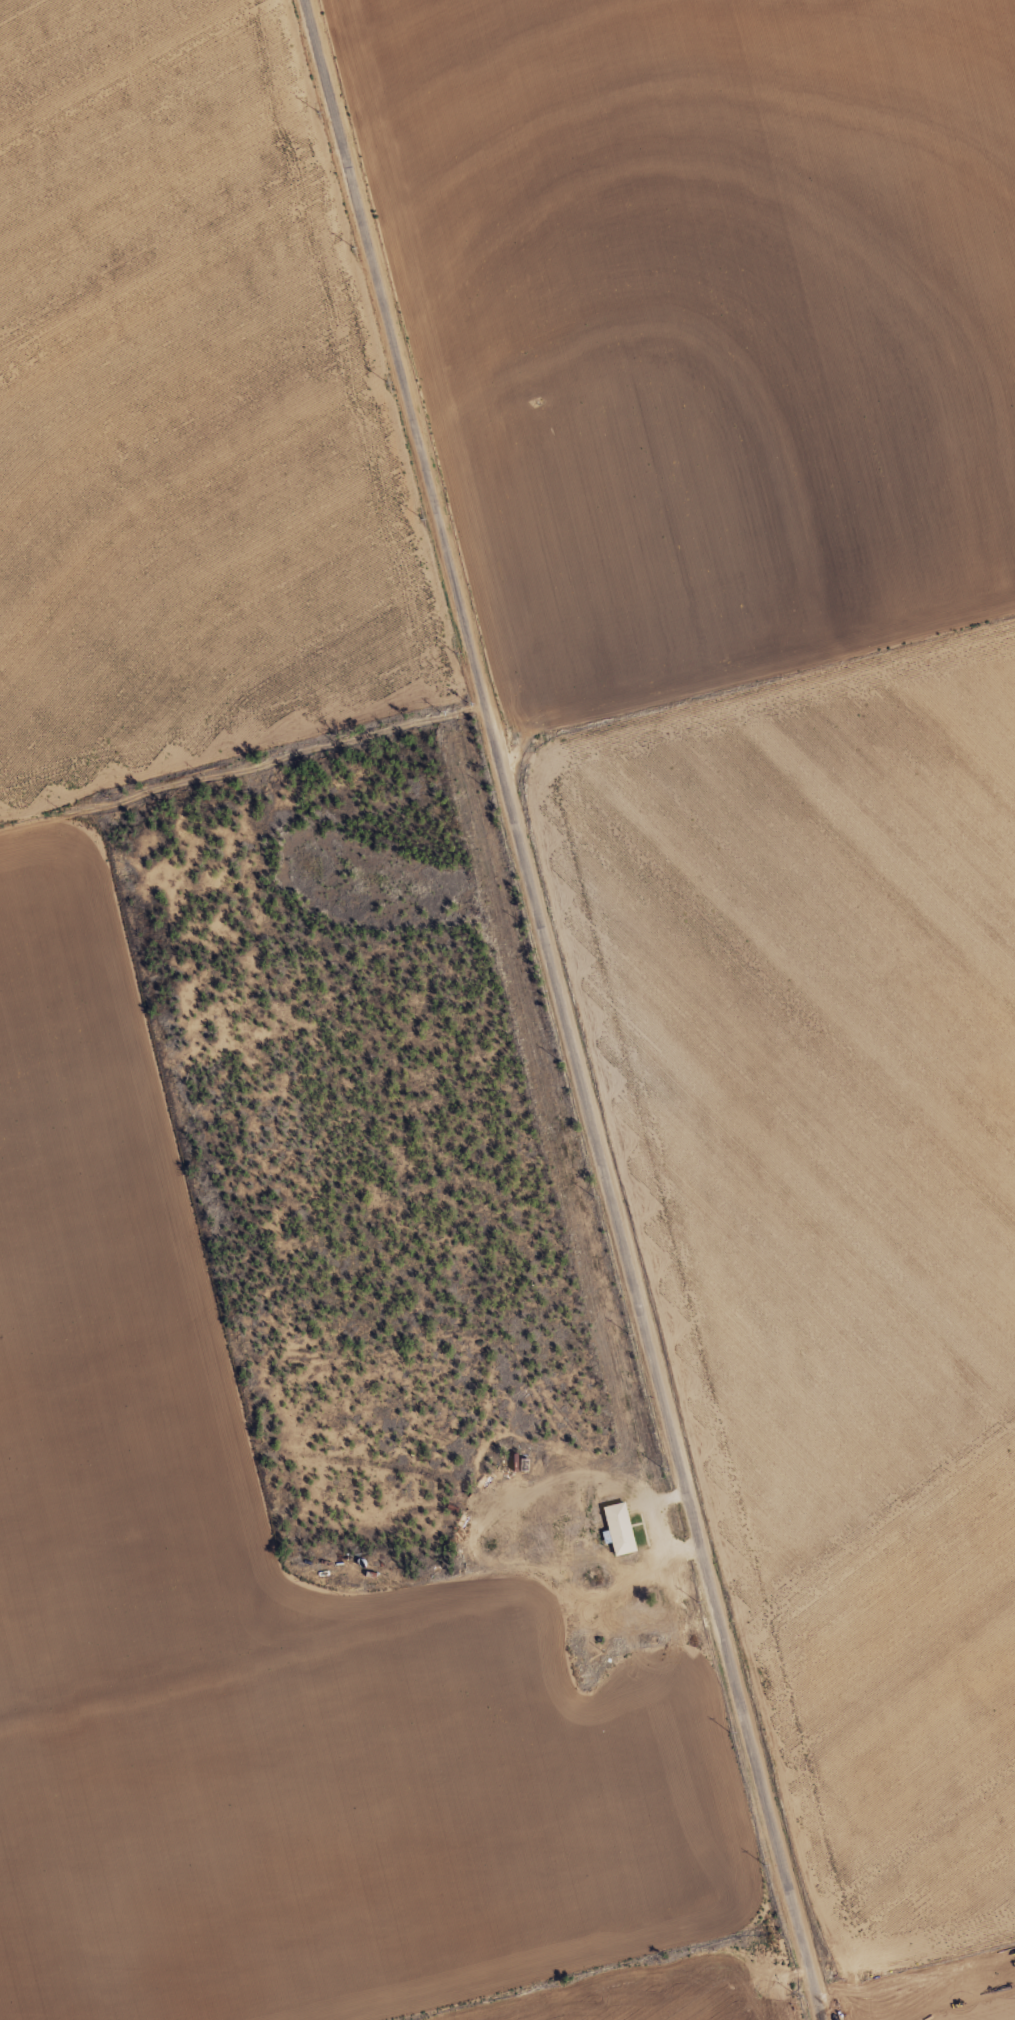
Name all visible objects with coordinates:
road: (558, 1010)
building: (619, 1528)

